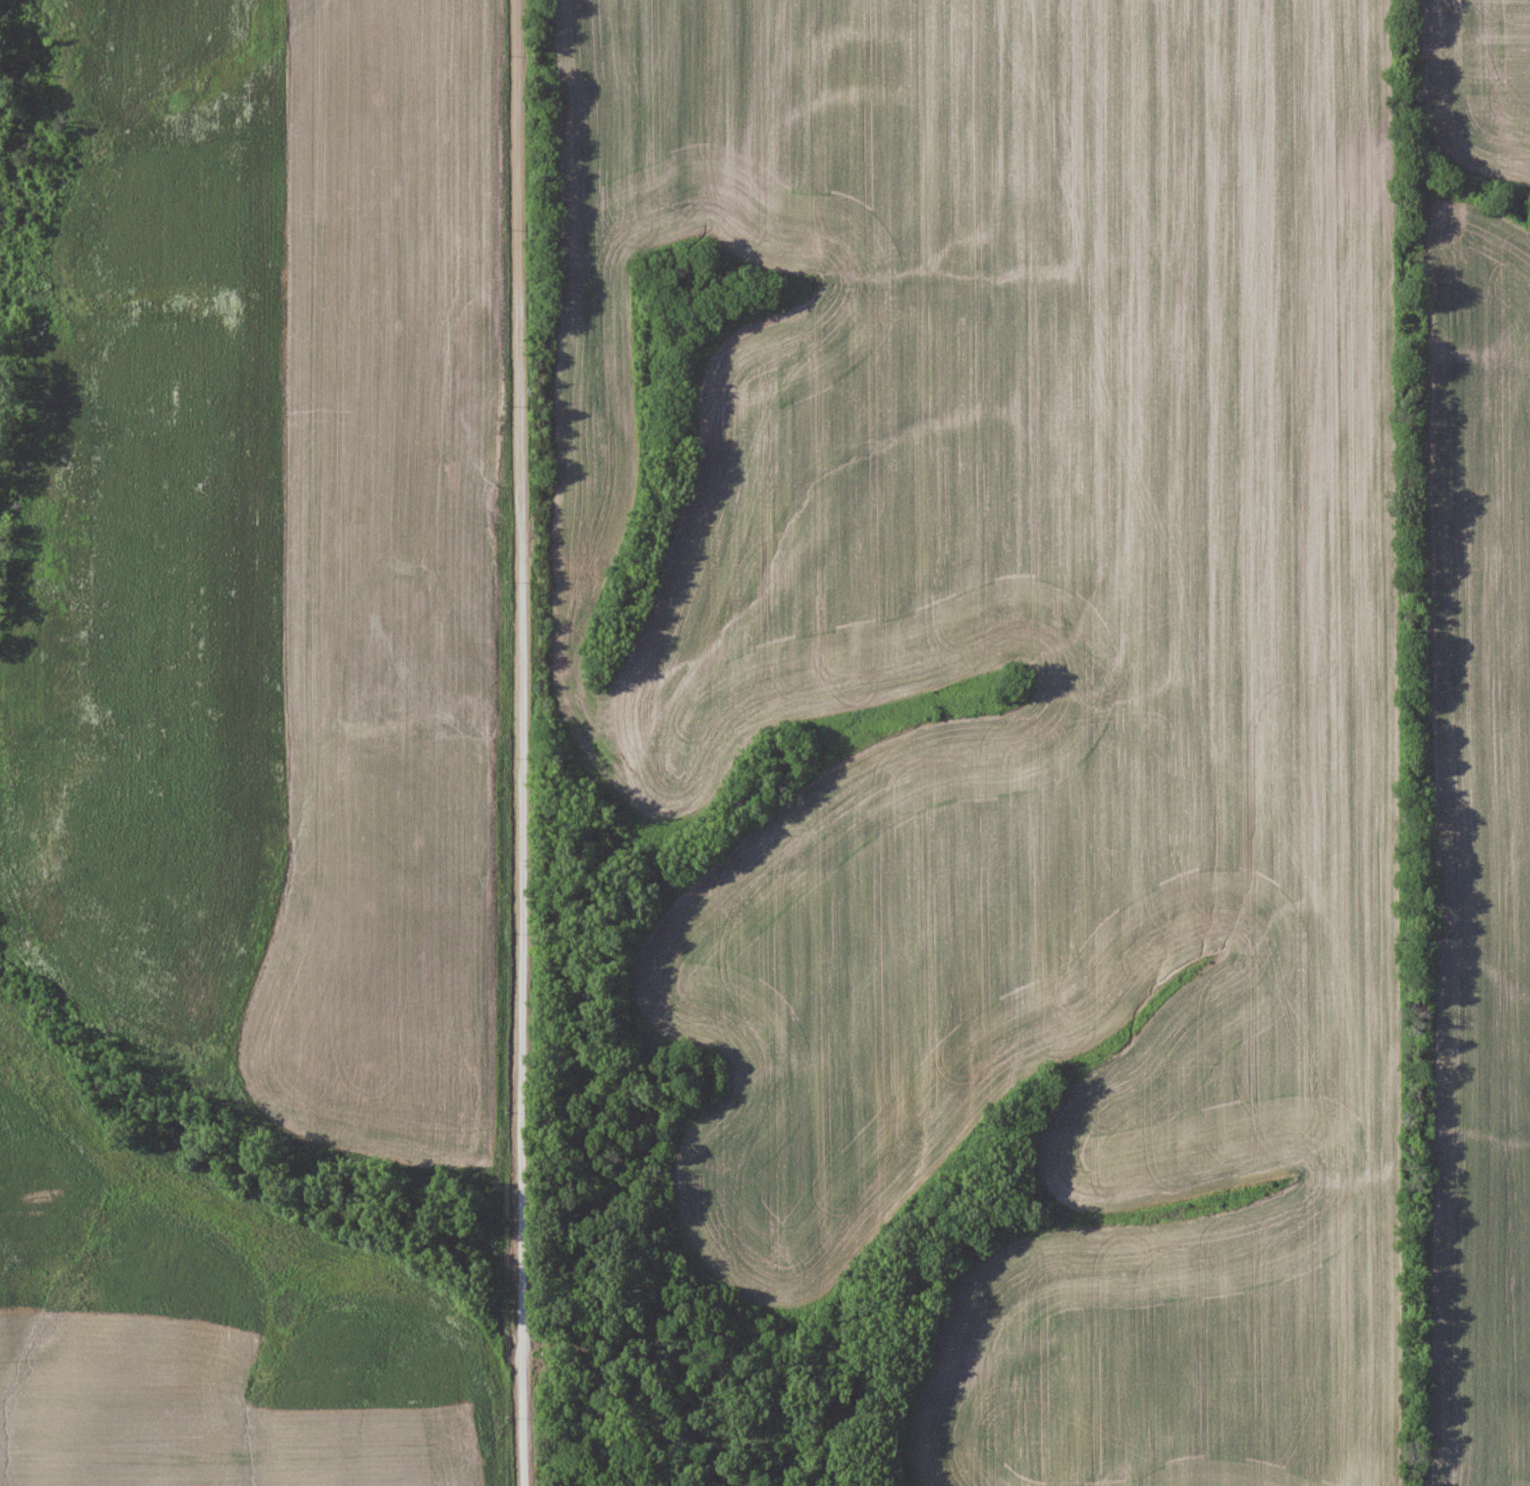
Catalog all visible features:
road: (522, 743)

